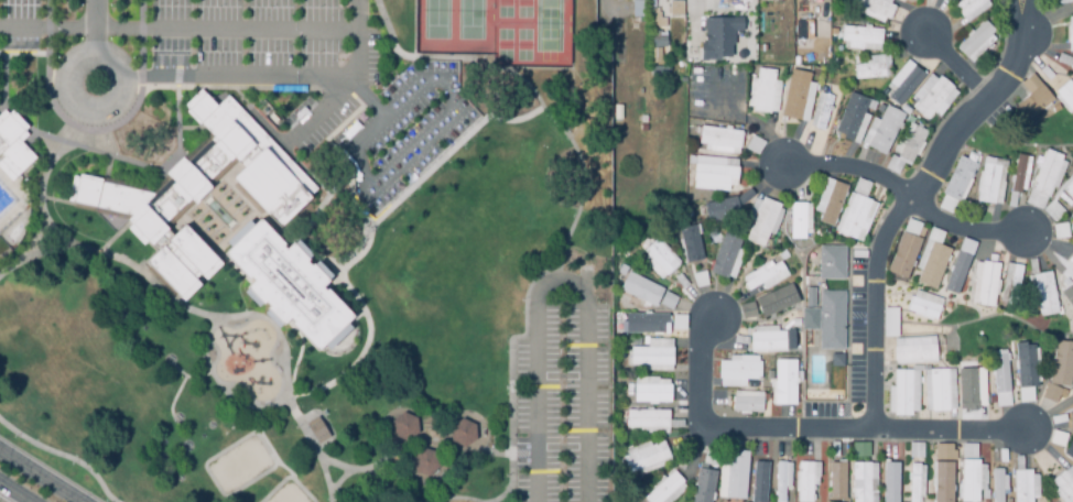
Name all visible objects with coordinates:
building: (809, 0)
building: (770, 1)
building: (1063, 2)
building: (674, 7)
building: (968, 7)
park: (505, 8)
building: (875, 8)
park: (524, 9)
building: (639, 9)
building: (801, 9)
building: (654, 18)
park: (437, 19)
park: (472, 20)
parking lot: (19, 24)
park: (550, 25)
road: (94, 26)
road: (194, 28)
building: (805, 29)
parking lot: (242, 33)
building: (861, 35)
building: (1070, 35)
building: (719, 36)
building: (976, 41)
park: (506, 45)
park: (524, 45)
building: (654, 51)
road: (2, 52)
parking lot: (371, 55)
road: (75, 57)
road: (955, 66)
building: (1072, 67)
road: (4, 68)
building: (869, 72)
road: (259, 76)
building: (906, 85)
parking lot: (717, 91)
building: (763, 92)
building: (793, 94)
building: (1066, 95)
building: (1031, 97)
building: (932, 99)
road: (357, 100)
road: (316, 113)
building: (823, 113)
building: (852, 118)
road: (755, 122)
road: (120, 123)
parking lot: (326, 124)
building: (653, 127)
parking lot: (404, 130)
building: (885, 132)
road: (73, 135)
building: (719, 139)
building: (755, 143)
building: (12, 145)
building: (912, 145)
road: (449, 152)
road: (398, 163)
building: (713, 168)
road: (846, 170)
building: (1047, 174)
building: (1018, 175)
building: (958, 179)
building: (988, 184)
building: (202, 190)
building: (1070, 190)
road: (69, 203)
road: (907, 203)
road: (581, 205)
building: (724, 205)
building: (833, 205)
building: (855, 218)
building: (798, 221)
building: (762, 223)
building: (1071, 226)
building: (1060, 229)
road: (963, 231)
road: (113, 238)
building: (689, 242)
park: (307, 249)
building: (902, 253)
building: (723, 254)
road: (36, 255)
building: (660, 259)
building: (1071, 259)
building: (832, 264)
building: (933, 266)
building: (957, 274)
building: (765, 277)
building: (1010, 277)
building: (700, 279)
road: (562, 281)
building: (288, 284)
building: (987, 285)
building: (1015, 285)
building: (639, 287)
building: (1070, 292)
building: (1045, 294)
building: (666, 298)
building: (774, 298)
building: (809, 298)
road: (178, 305)
building: (923, 308)
building: (746, 309)
building: (810, 320)
building: (642, 321)
building: (679, 321)
building: (832, 321)
building: (893, 321)
building: (771, 342)
building: (913, 354)
road: (297, 357)
building: (650, 357)
building: (837, 361)
building: (1061, 361)
building: (1029, 363)
building: (739, 371)
road: (696, 372)
building: (1000, 374)
road: (198, 378)
building: (787, 382)
building: (968, 383)
road: (180, 386)
road: (313, 391)
building: (939, 391)
building: (1050, 392)
building: (902, 393)
building: (652, 394)
building: (747, 405)
parking lot: (563, 408)
building: (648, 423)
building: (1071, 423)
building: (404, 427)
building: (317, 429)
building: (463, 433)
road: (858, 433)
building: (860, 448)
building: (915, 449)
building: (968, 449)
building: (944, 452)
building: (1070, 452)
road: (524, 454)
road: (63, 455)
building: (647, 458)
road: (277, 459)
building: (425, 461)
park: (239, 465)
road: (37, 477)
road: (326, 477)
road: (339, 479)
building: (968, 481)
building: (731, 482)
building: (780, 482)
building: (756, 483)
building: (805, 483)
building: (837, 483)
building: (861, 483)
building: (888, 483)
building: (914, 483)
building: (943, 483)
road: (384, 487)
building: (705, 487)
building: (997, 487)
building: (1022, 487)
building: (1064, 487)
building: (664, 489)
park: (289, 494)
road: (454, 498)

